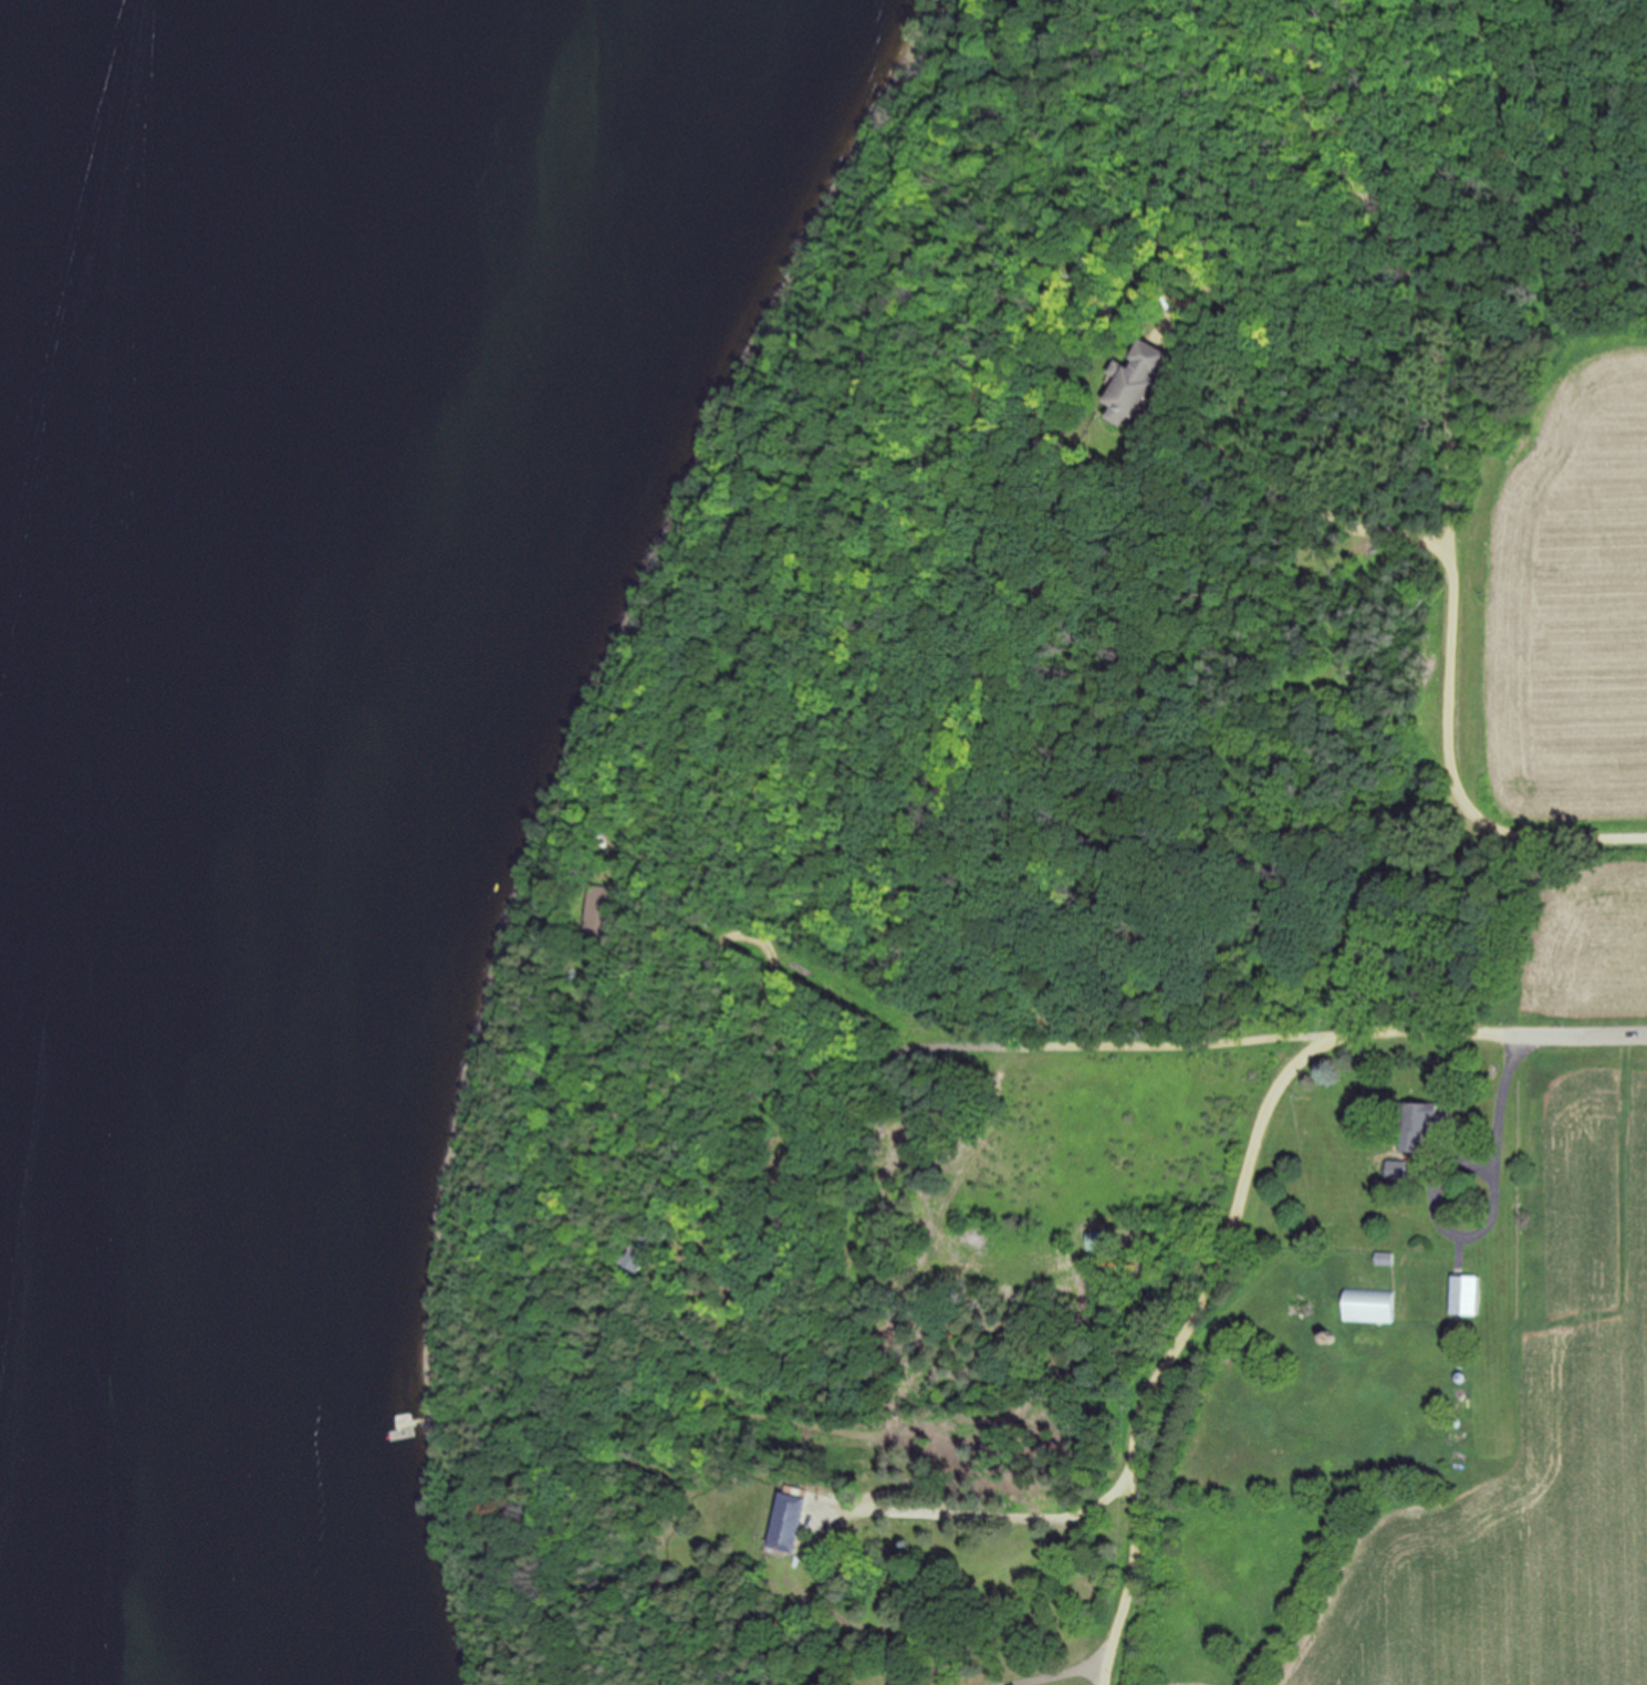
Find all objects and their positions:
river: (31, 91)
building: (1138, 383)
road: (1241, 448)
crop: (1559, 596)
road: (1448, 674)
building: (601, 909)
crop: (1555, 940)
road: (1289, 1039)
road: (1492, 1208)
road: (1188, 1351)
crop: (1529, 1443)
road: (1003, 1509)
building: (795, 1515)
road: (1064, 1673)

